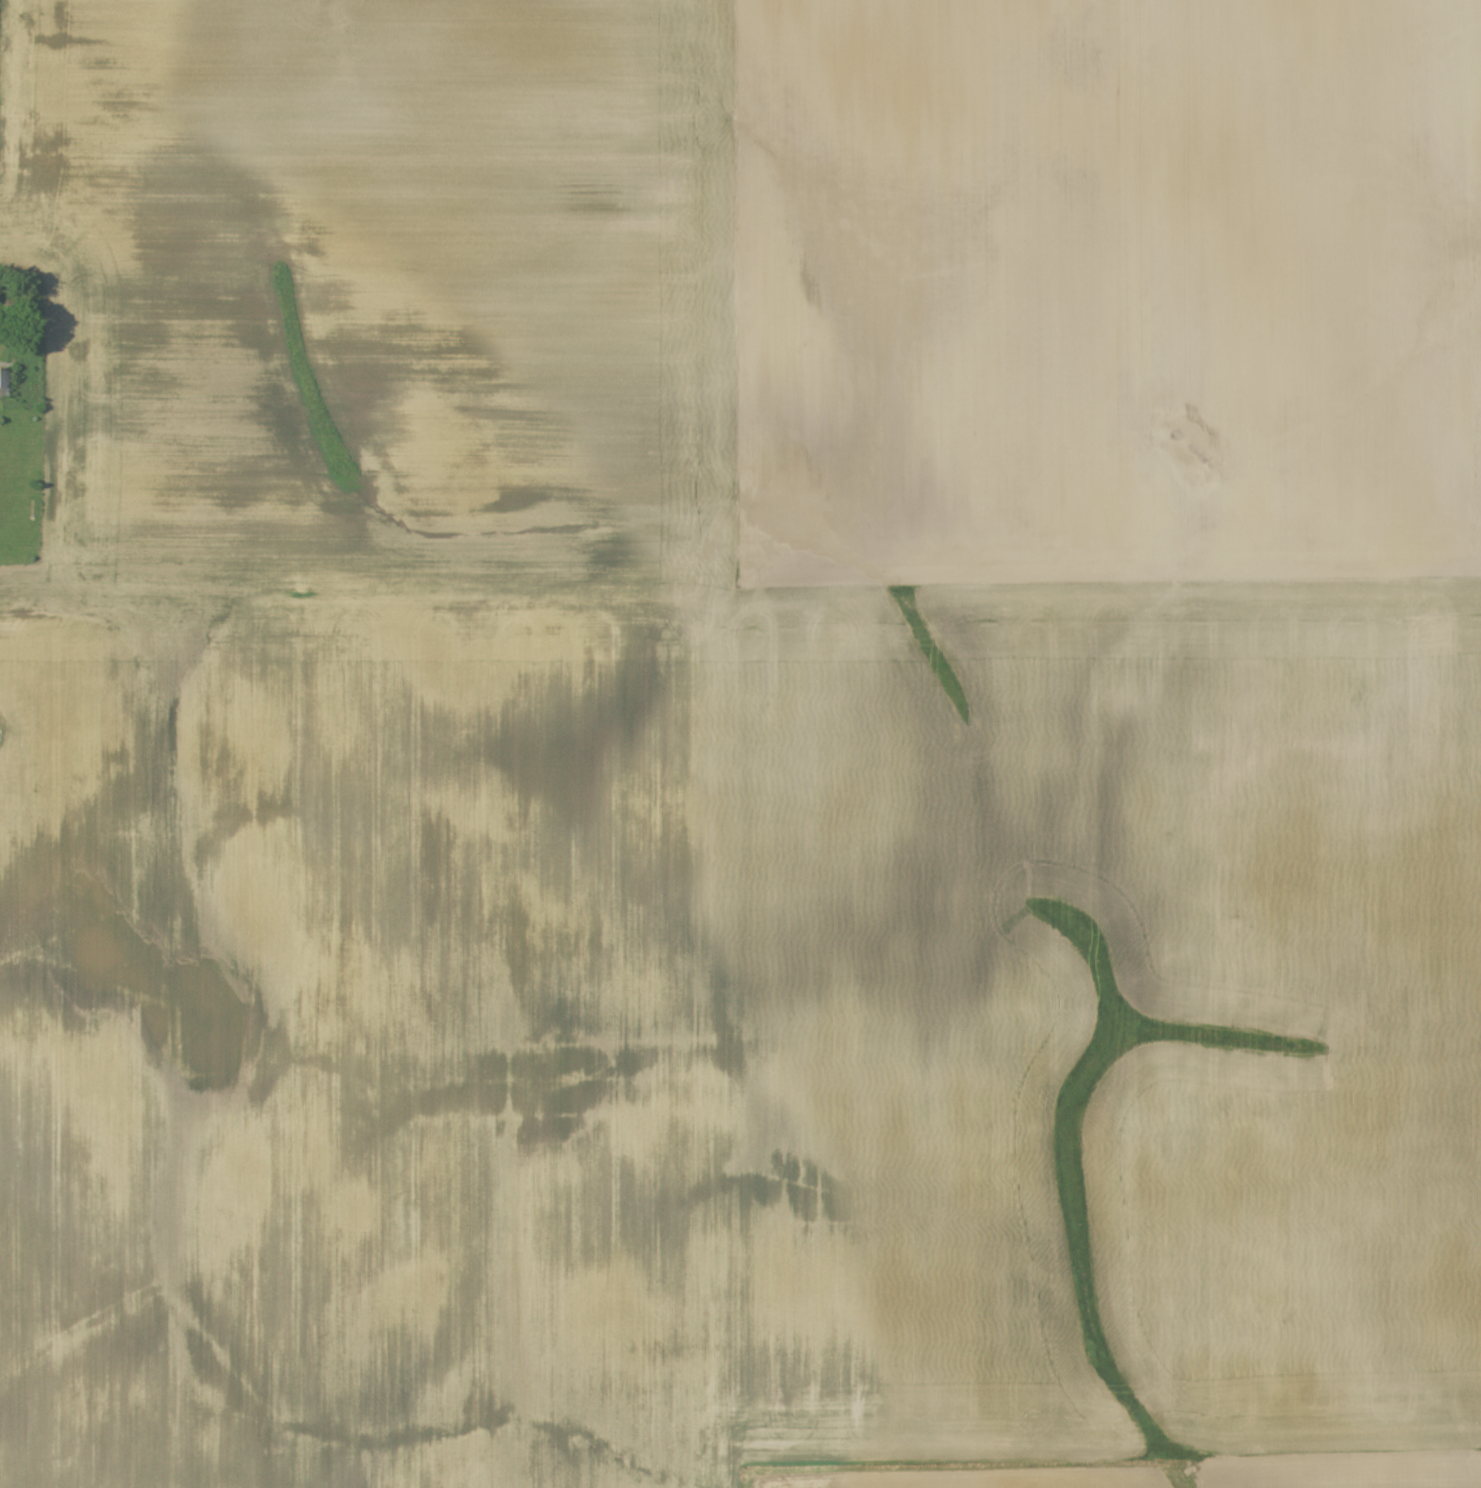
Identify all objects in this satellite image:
building: (3, 385)

